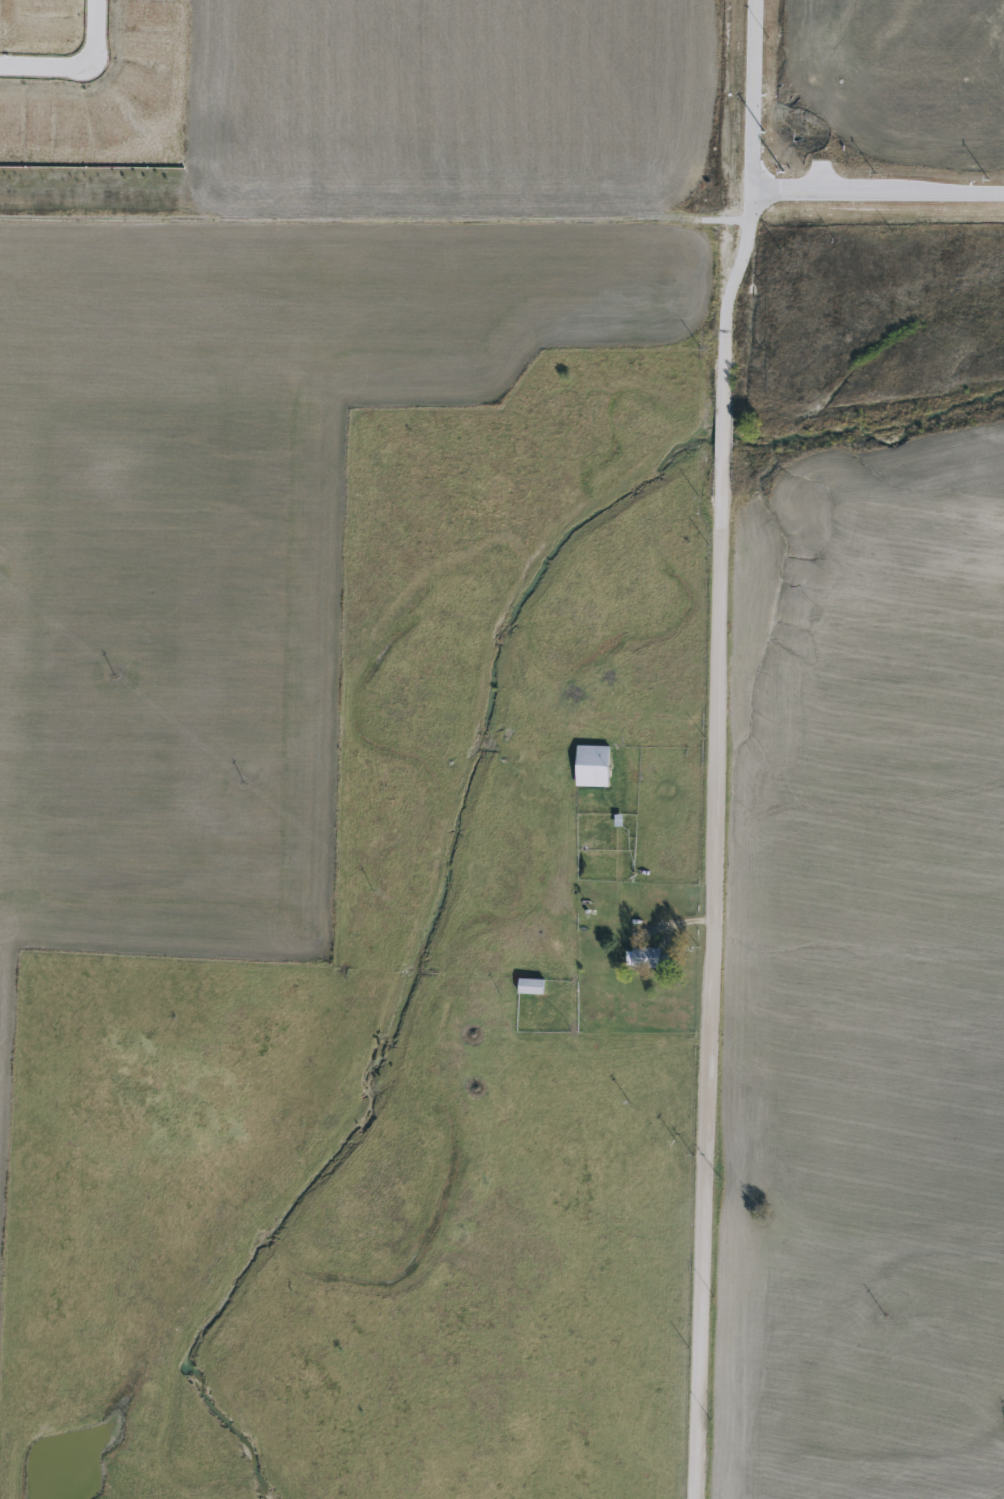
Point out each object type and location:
road: (95, 31)
road: (45, 67)
crop: (896, 77)
road: (754, 96)
crop: (445, 111)
road: (878, 193)
building: (593, 766)
road: (714, 844)
road: (675, 921)
building: (647, 958)
crop: (877, 967)
building: (531, 986)

